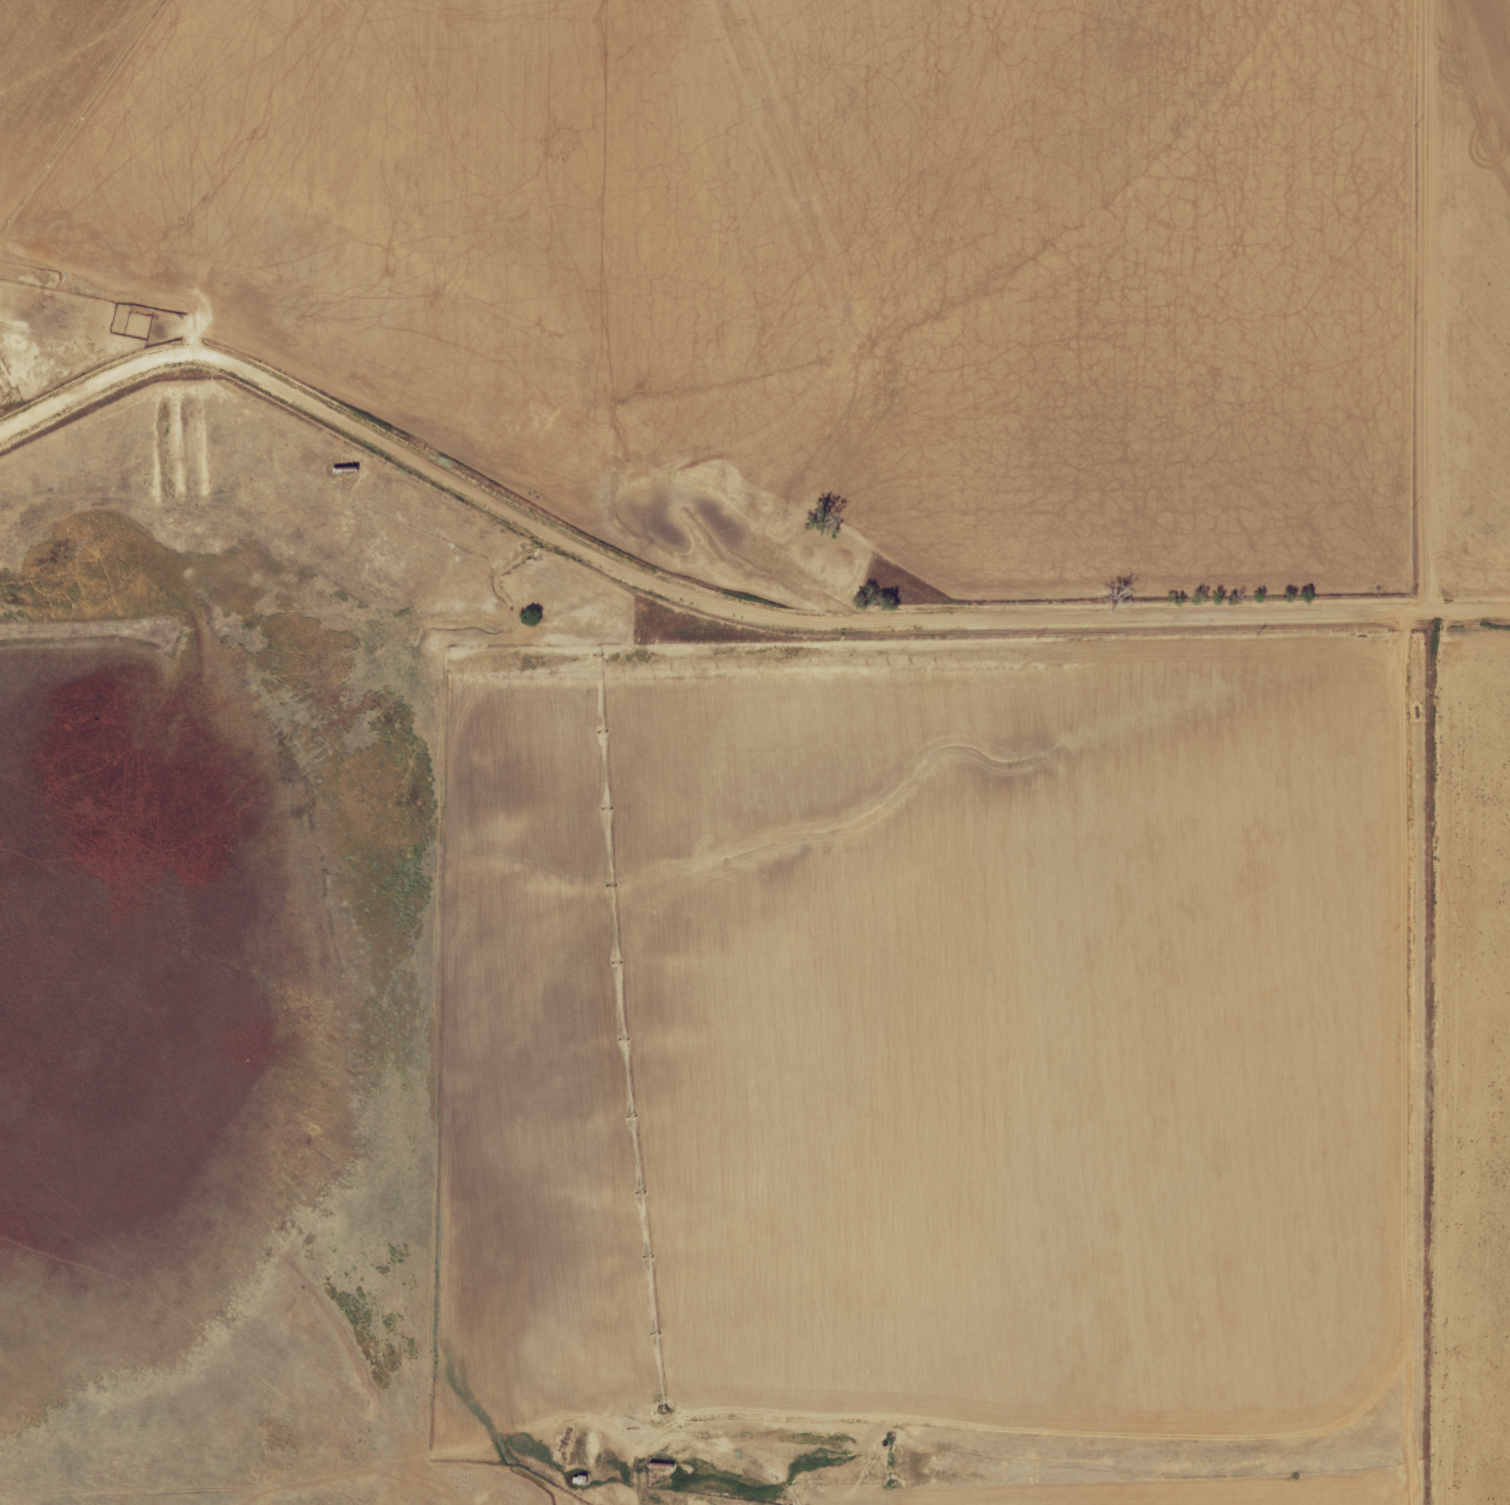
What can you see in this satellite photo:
road: (716, 603)

